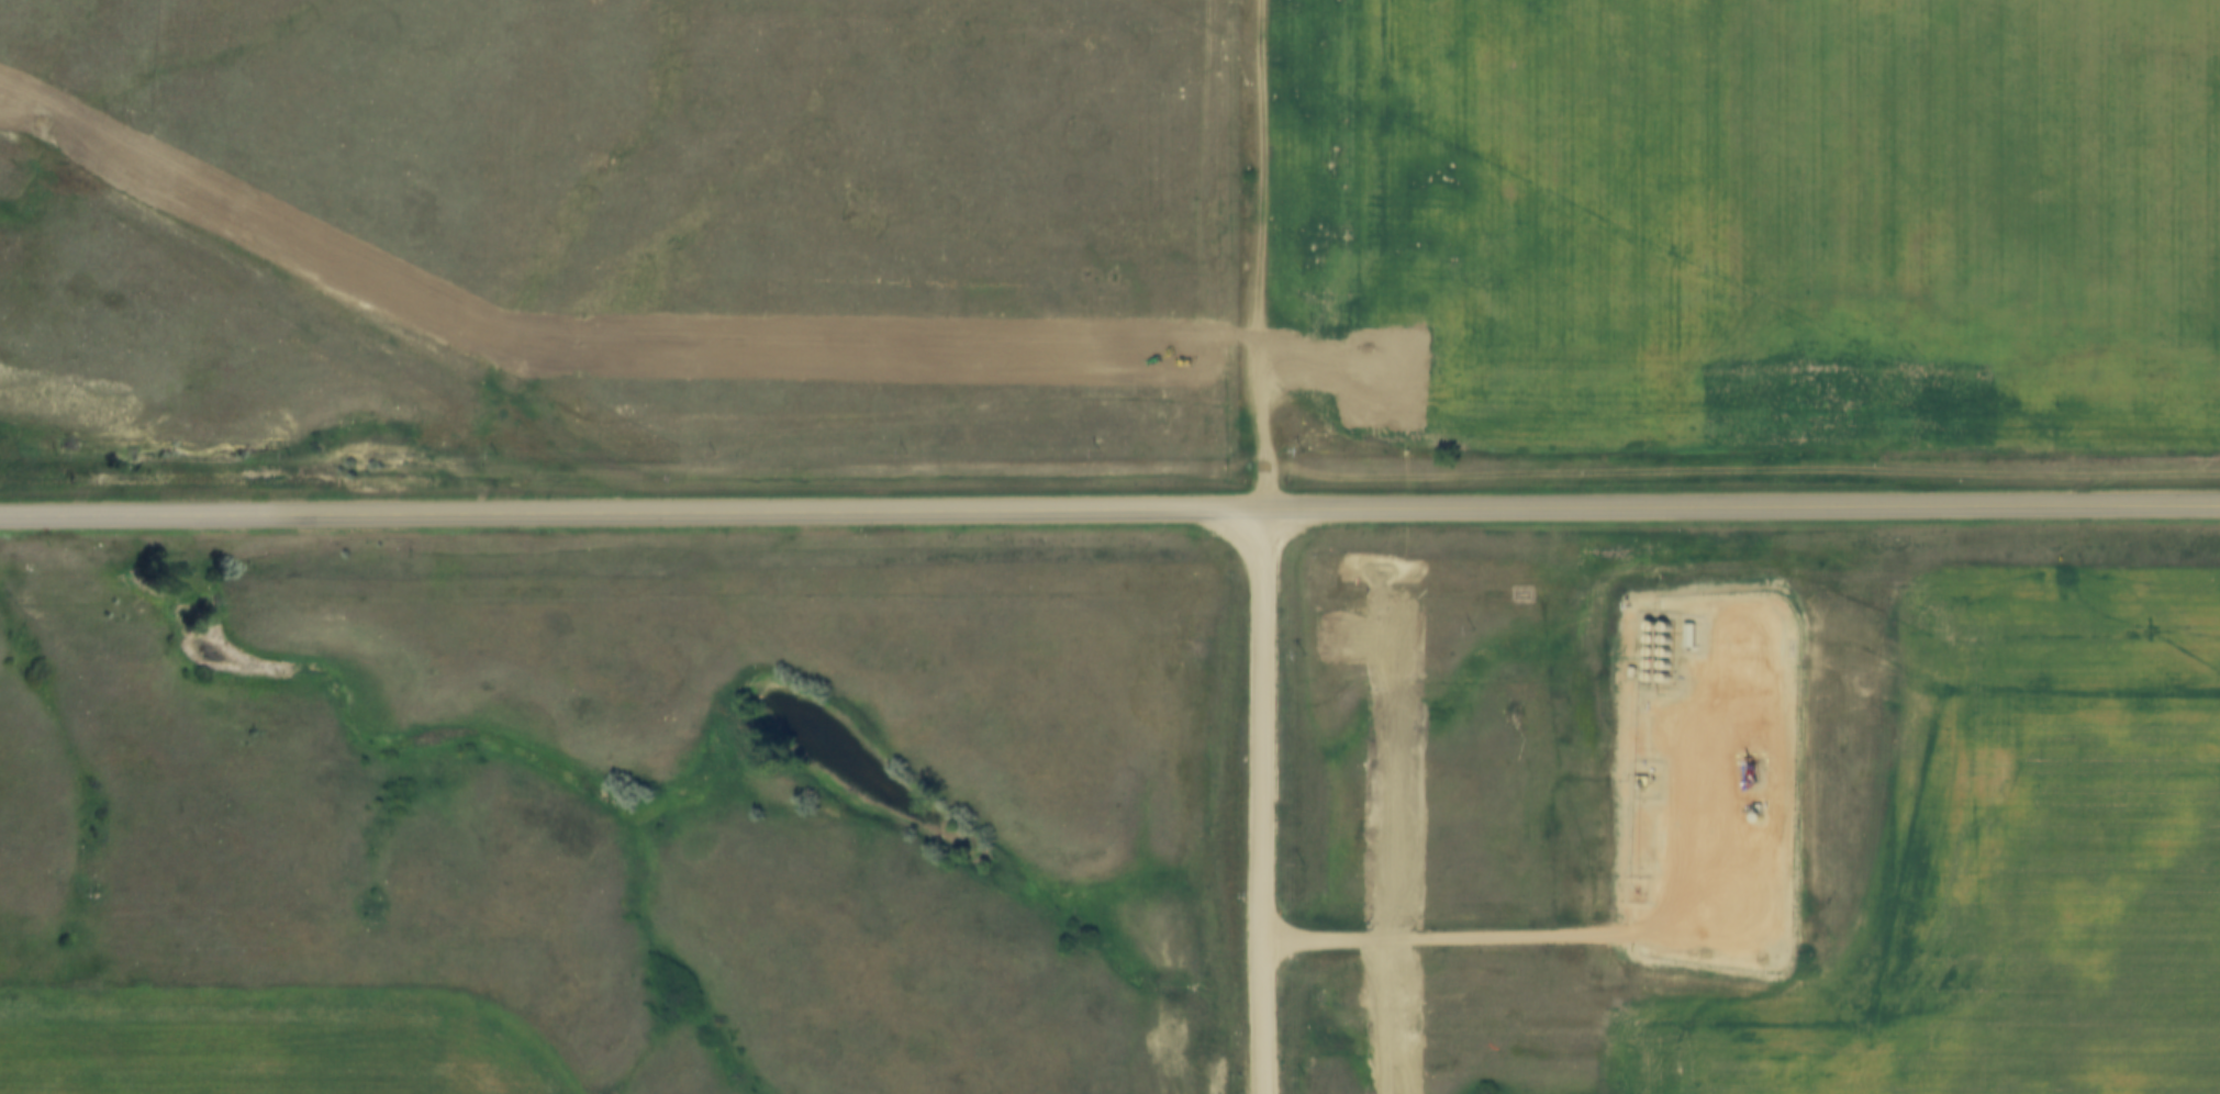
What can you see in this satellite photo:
road: (1259, 255)
road: (1109, 511)
road: (1261, 802)

